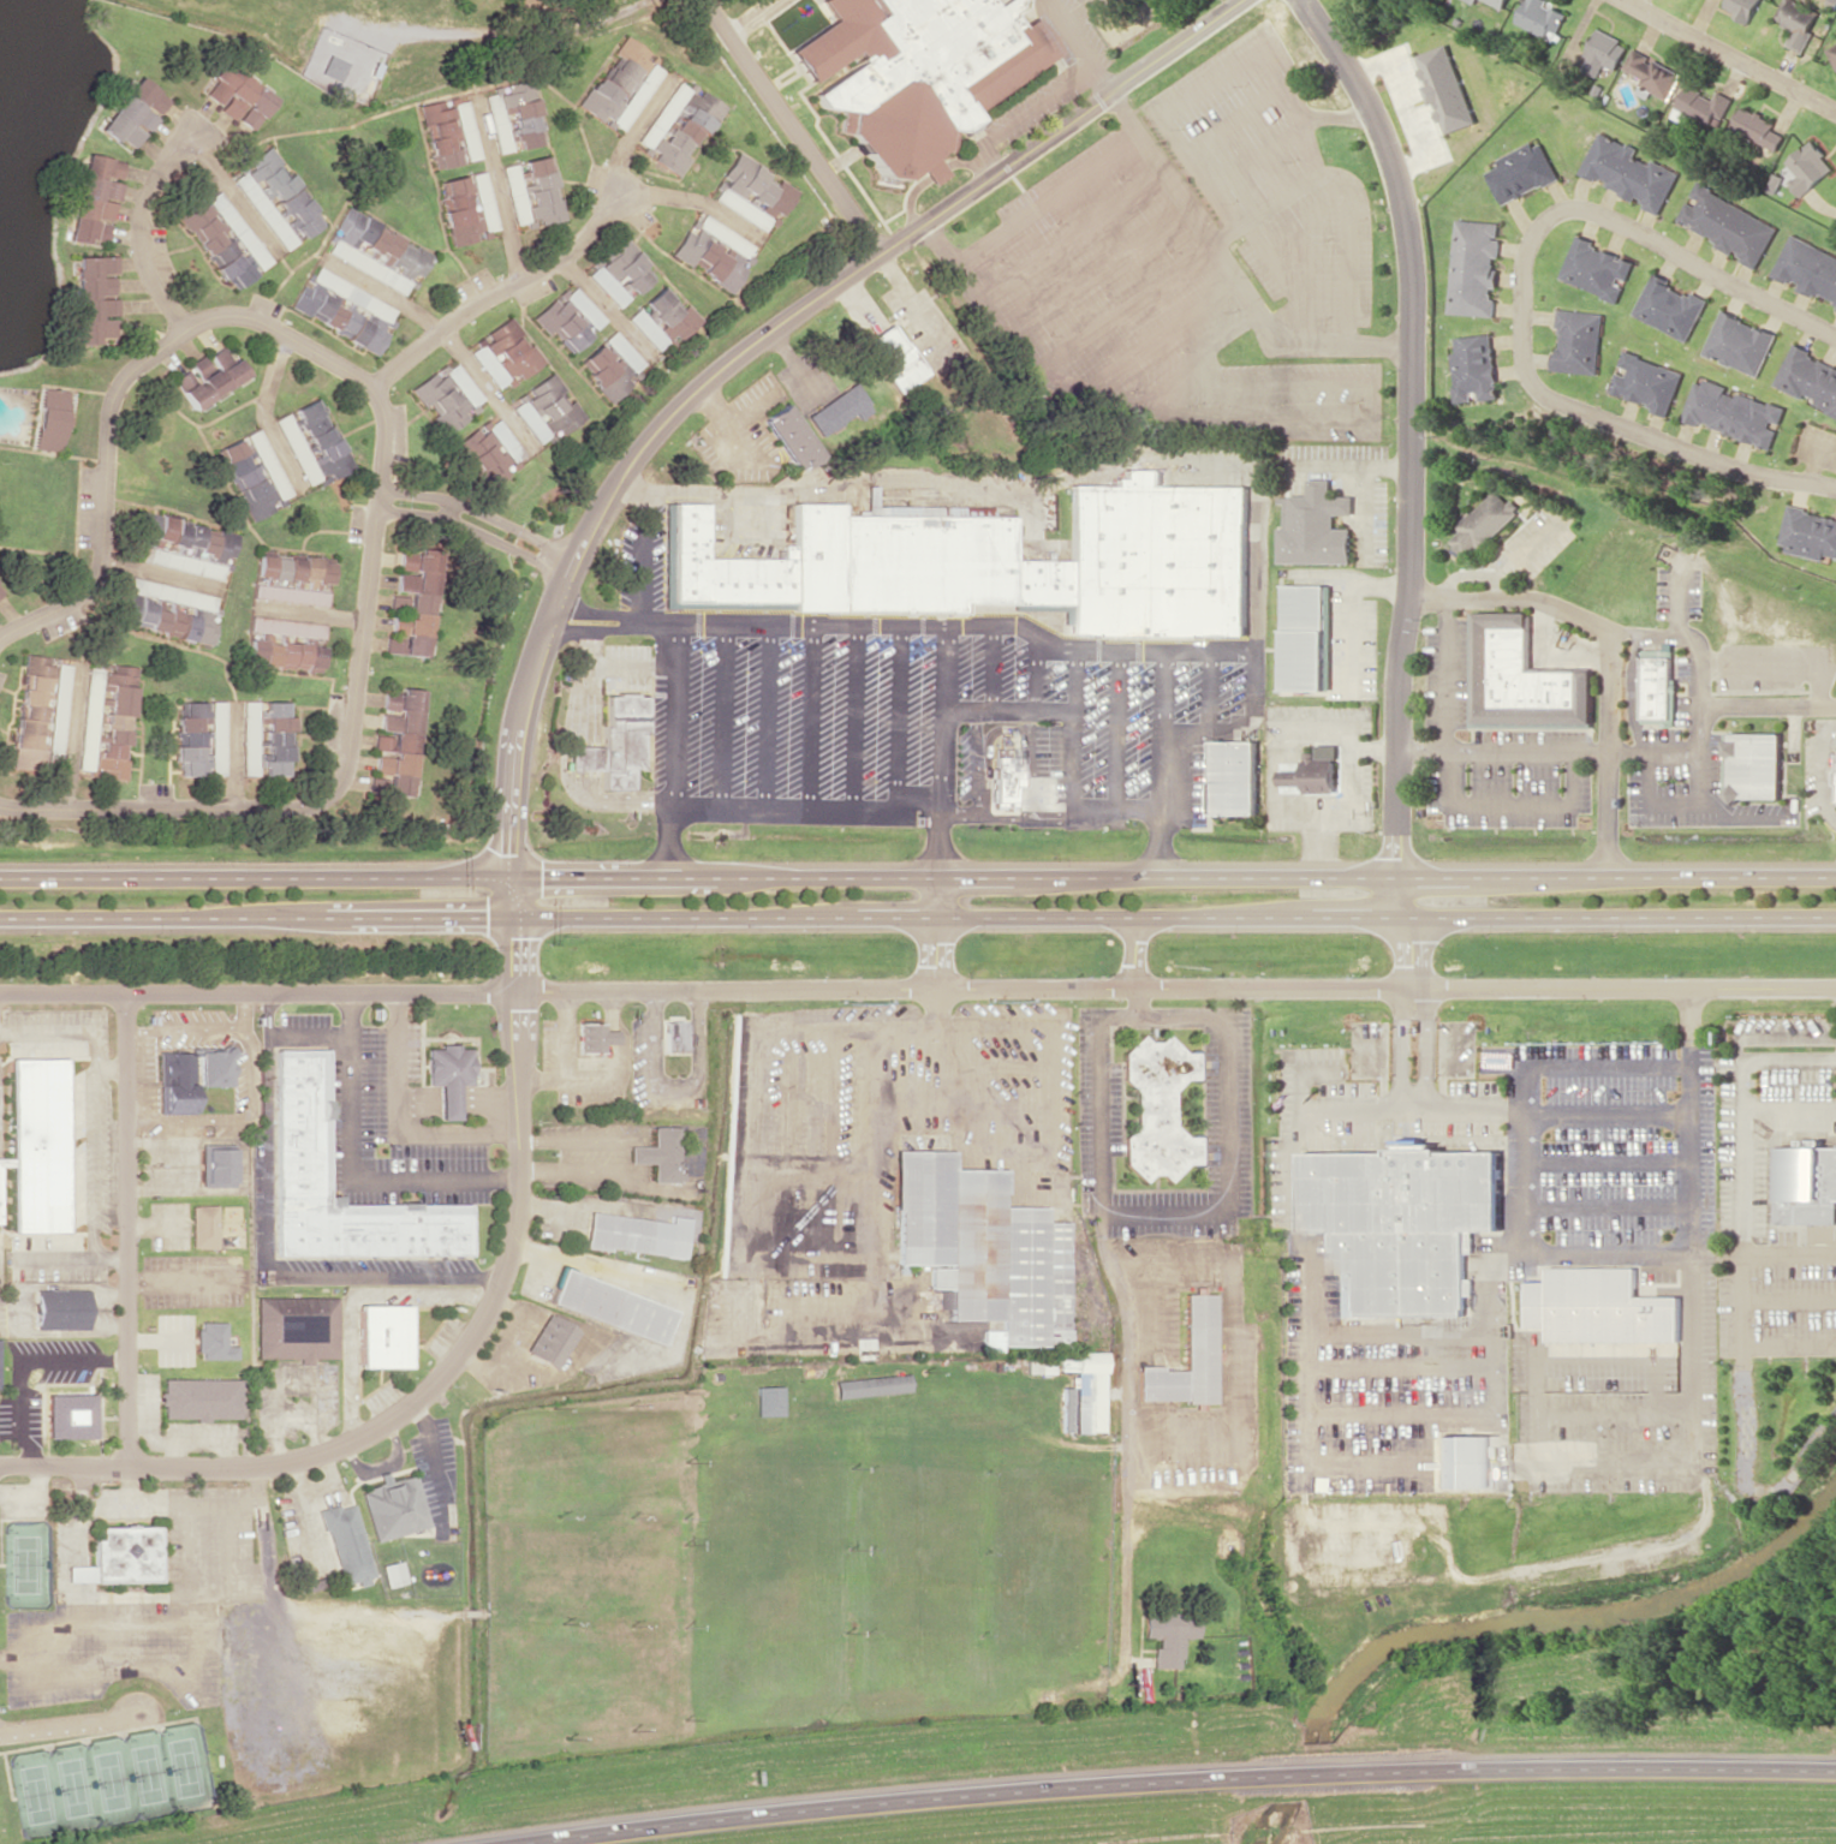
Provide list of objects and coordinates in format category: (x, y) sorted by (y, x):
building: (1498, 2)
building: (1743, 7)
road: (1085, 11)
road: (749, 17)
building: (1542, 17)
building: (1800, 22)
road: (1081, 44)
building: (1832, 50)
building: (1604, 52)
road: (1729, 53)
building: (914, 70)
road: (1218, 73)
building: (1653, 73)
building: (622, 83)
building: (237, 95)
building: (1705, 103)
building: (132, 113)
road: (1339, 115)
road: (1240, 117)
building: (513, 118)
building: (678, 125)
road: (788, 126)
building: (1758, 127)
building: (448, 131)
road: (985, 142)
road: (1258, 157)
building: (1808, 167)
building: (1522, 171)
building: (1629, 172)
road: (1348, 184)
building: (531, 191)
building: (750, 192)
building: (93, 197)
building: (274, 197)
road: (1045, 198)
building: (466, 207)
building: (1728, 223)
road: (135, 227)
road: (1069, 233)
building: (222, 238)
building: (375, 250)
building: (710, 251)
road: (1275, 259)
building: (1474, 267)
building: (1596, 268)
building: (1808, 268)
road: (1093, 270)
building: (619, 271)
road: (1230, 271)
road: (1301, 288)
road: (505, 292)
road: (1524, 300)
building: (1670, 306)
road: (1119, 308)
building: (342, 309)
building: (667, 315)
building: (567, 317)
building: (645, 328)
building: (1579, 341)
road: (1006, 342)
building: (1740, 342)
road: (1144, 344)
road: (744, 347)
building: (502, 352)
building: (894, 357)
road: (1190, 363)
building: (609, 364)
building: (1476, 368)
building: (209, 375)
building: (1810, 378)
building: (1647, 381)
building: (544, 408)
building: (836, 410)
building: (1734, 412)
building: (48, 418)
road: (1365, 422)
building: (788, 436)
building: (311, 442)
building: (487, 450)
road: (385, 455)
building: (251, 472)
road: (1412, 484)
road: (627, 488)
building: (1485, 524)
road: (477, 529)
building: (1318, 530)
building: (1808, 532)
building: (181, 545)
road: (1530, 551)
road: (642, 559)
building: (1003, 560)
road: (1477, 574)
building: (290, 579)
building: (0, 592)
road: (1680, 597)
building: (412, 603)
building: (168, 609)
road: (594, 611)
road: (1585, 619)
road: (789, 623)
building: (285, 627)
road: (589, 628)
building: (1311, 641)
road: (1096, 648)
building: (282, 654)
road: (631, 666)
road: (1780, 666)
road: (990, 667)
road: (1033, 673)
building: (1525, 676)
road: (1077, 679)
building: (1658, 686)
road: (1211, 687)
road: (1632, 691)
road: (1768, 705)
road: (899, 709)
building: (40, 711)
road: (1234, 712)
road: (674, 714)
road: (721, 716)
road: (767, 716)
road: (809, 716)
road: (852, 717)
building: (115, 720)
building: (191, 720)
building: (88, 726)
road: (1117, 727)
building: (217, 738)
building: (266, 738)
building: (398, 738)
building: (621, 739)
road: (1570, 752)
road: (1610, 752)
road: (584, 757)
building: (190, 759)
road: (973, 763)
building: (1759, 770)
building: (1316, 772)
building: (1003, 775)
building: (1234, 776)
road: (1699, 783)
road: (1030, 787)
road: (1447, 793)
road: (1084, 805)
road: (938, 808)
road: (779, 810)
road: (956, 814)
road: (1688, 814)
road: (1002, 817)
road: (1162, 842)
road: (917, 877)
traffic signals: (512, 896)
road: (917, 917)
road: (517, 938)
road: (1134, 954)
road: (1176, 991)
road: (260, 1002)
building: (592, 1036)
building: (672, 1036)
road: (1775, 1036)
road: (1427, 1049)
road: (1401, 1050)
road: (1679, 1063)
road: (1454, 1072)
building: (190, 1074)
building: (448, 1075)
road: (1790, 1105)
building: (1157, 1108)
road: (1496, 1114)
building: (302, 1133)
building: (40, 1150)
road: (1522, 1159)
building: (660, 1160)
road: (1608, 1162)
building: (216, 1164)
building: (1806, 1183)
road: (1608, 1205)
building: (0, 1209)
road: (1178, 1211)
road: (1745, 1215)
building: (1402, 1223)
building: (203, 1225)
road: (1693, 1230)
road: (127, 1239)
building: (638, 1240)
building: (982, 1248)
road: (1664, 1254)
road: (1790, 1299)
building: (1603, 1306)
road: (1616, 1308)
building: (614, 1311)
building: (65, 1313)
road: (1123, 1319)
building: (294, 1326)
road: (1401, 1332)
building: (383, 1336)
road: (1229, 1341)
road: (1790, 1343)
building: (214, 1344)
building: (554, 1344)
road: (1616, 1355)
building: (1184, 1359)
road: (1401, 1366)
building: (0, 1369)
building: (870, 1385)
building: (1085, 1389)
building: (767, 1400)
building: (202, 1402)
road: (1616, 1402)
road: (417, 1403)
building: (1065, 1408)
road: (1401, 1412)
building: (74, 1420)
road: (1538, 1440)
road: (1617, 1444)
building: (1462, 1461)
road: (1307, 1463)
road: (1748, 1485)
building: (394, 1514)
road: (1122, 1545)
building: (346, 1551)
building: (120, 1557)
park: (25, 1563)
building: (391, 1573)
building: (1167, 1635)
park: (1780, 1679)
road: (1178, 1778)
park: (107, 1779)

